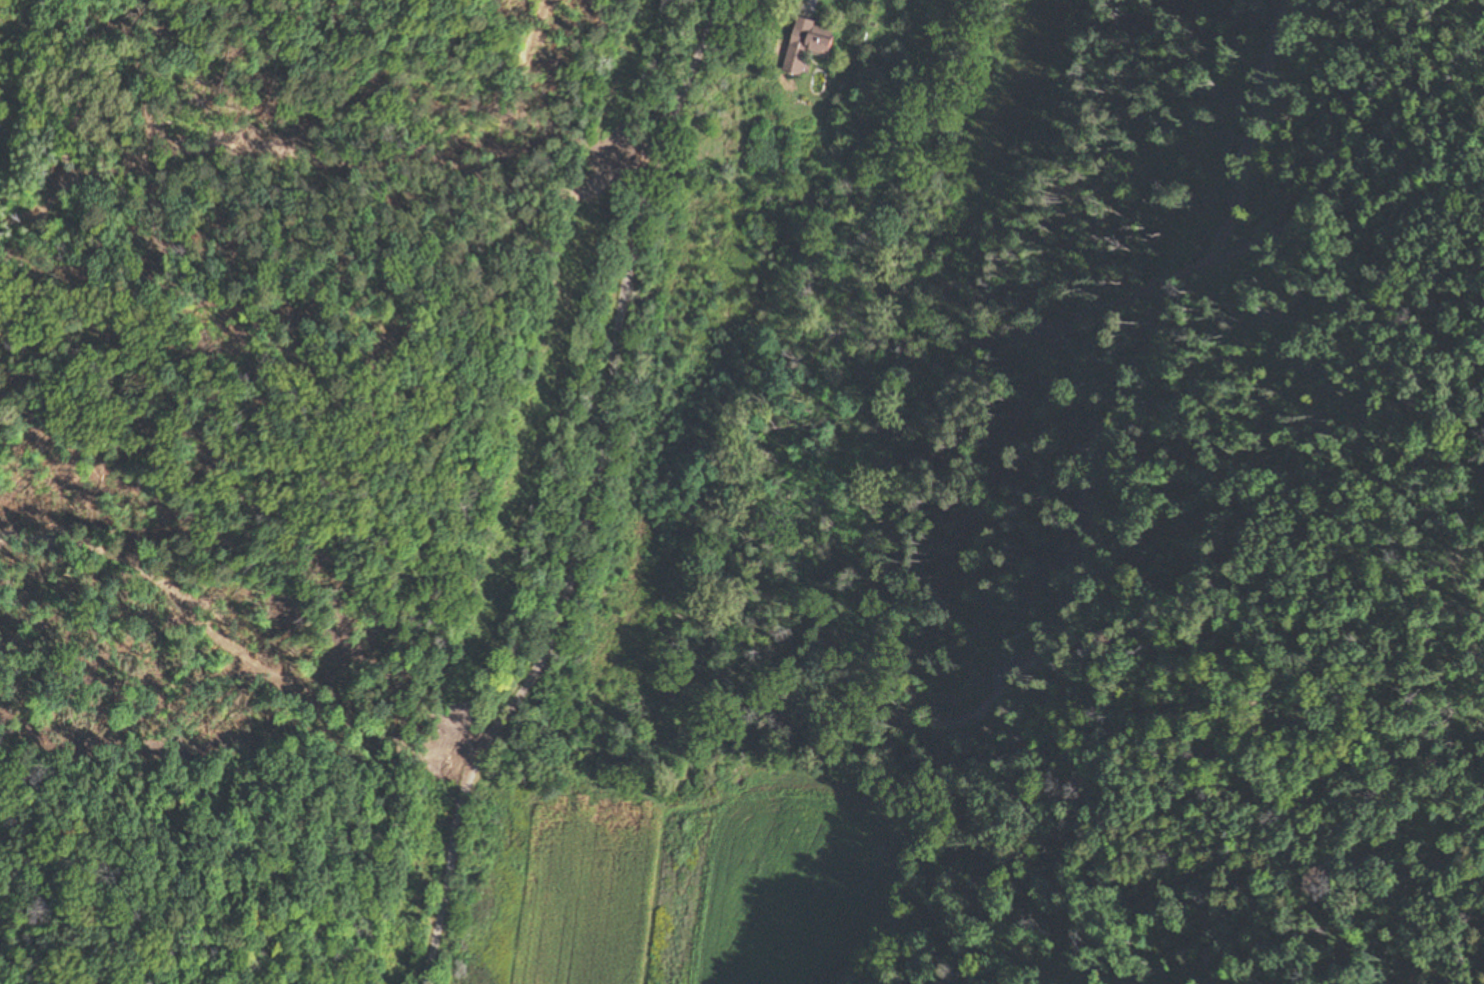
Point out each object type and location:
building: (811, 48)
road: (575, 493)

